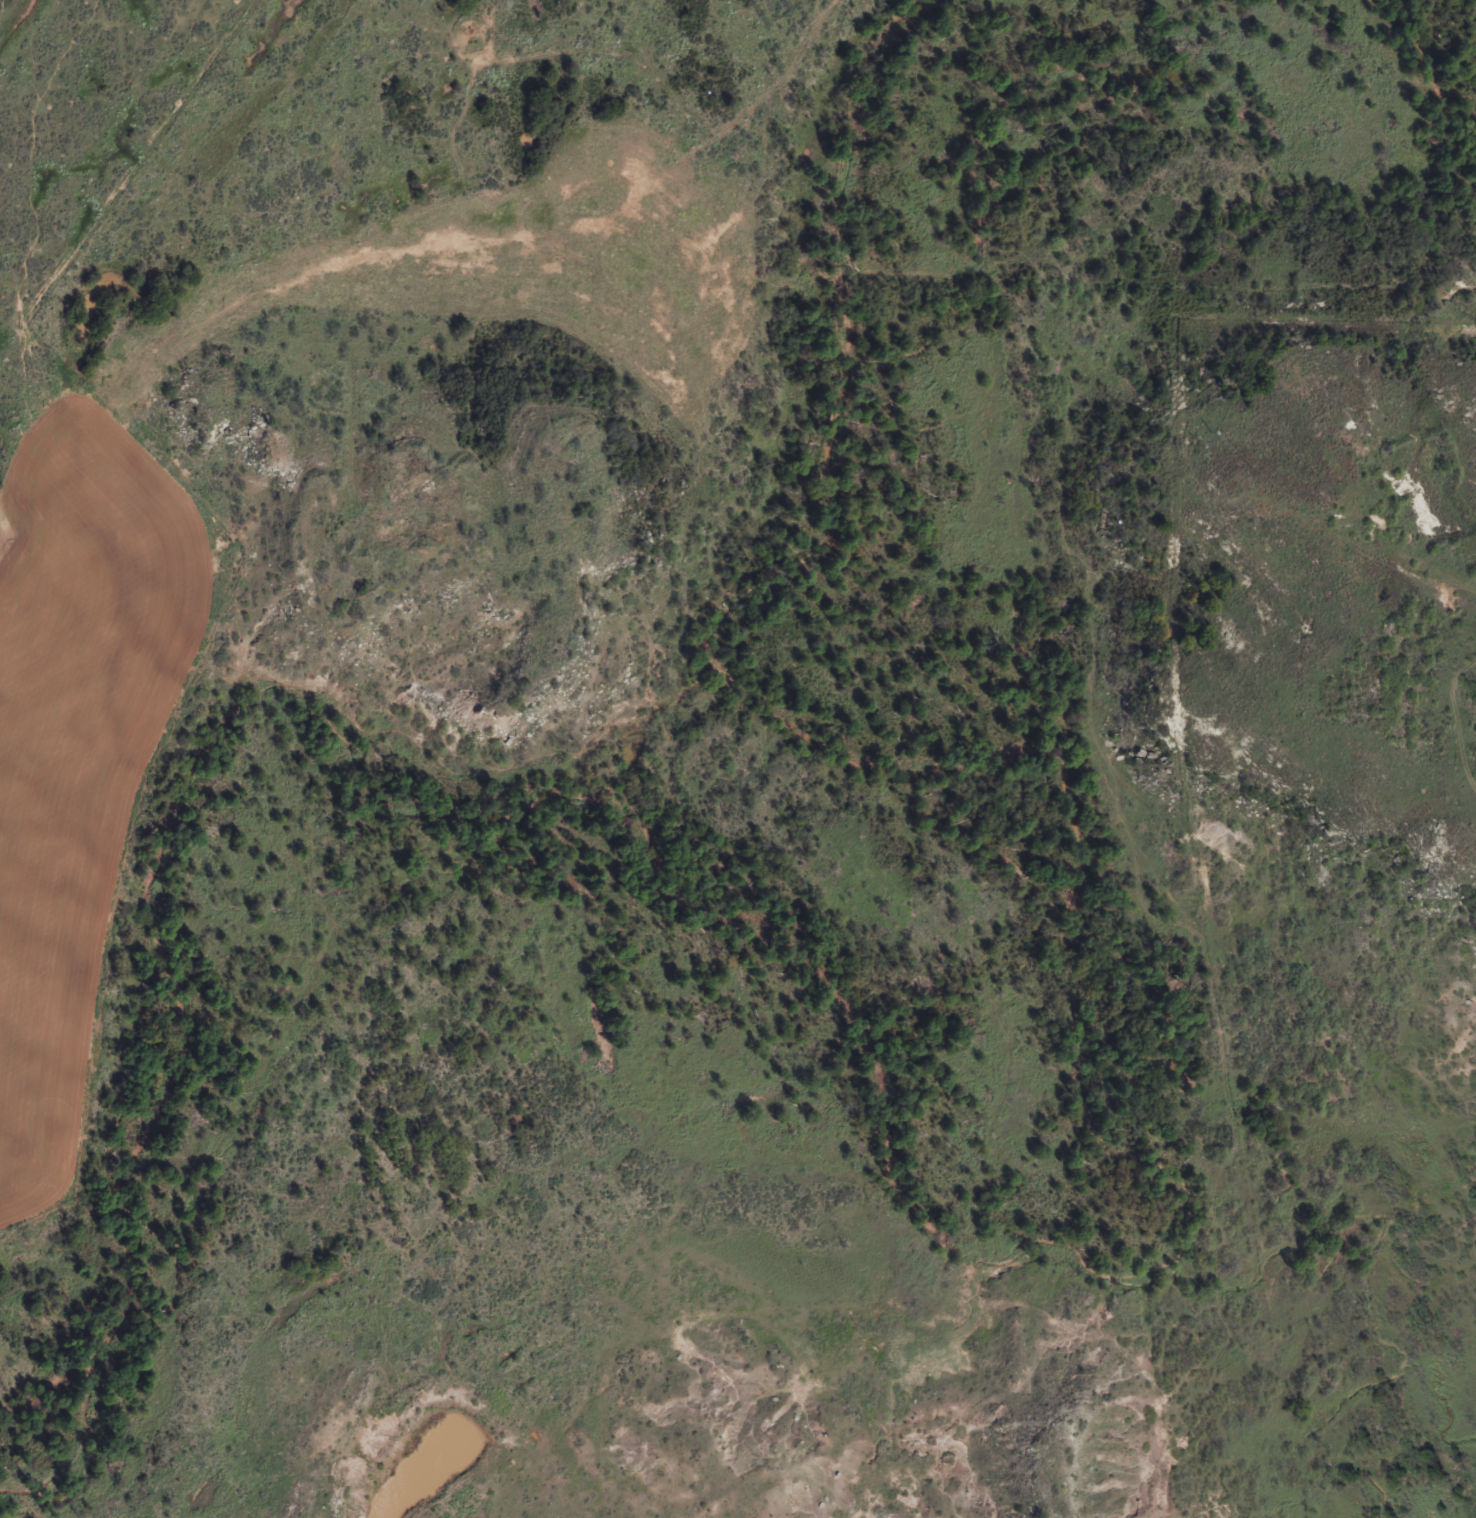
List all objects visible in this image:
road: (426, 302)
road: (1445, 594)

